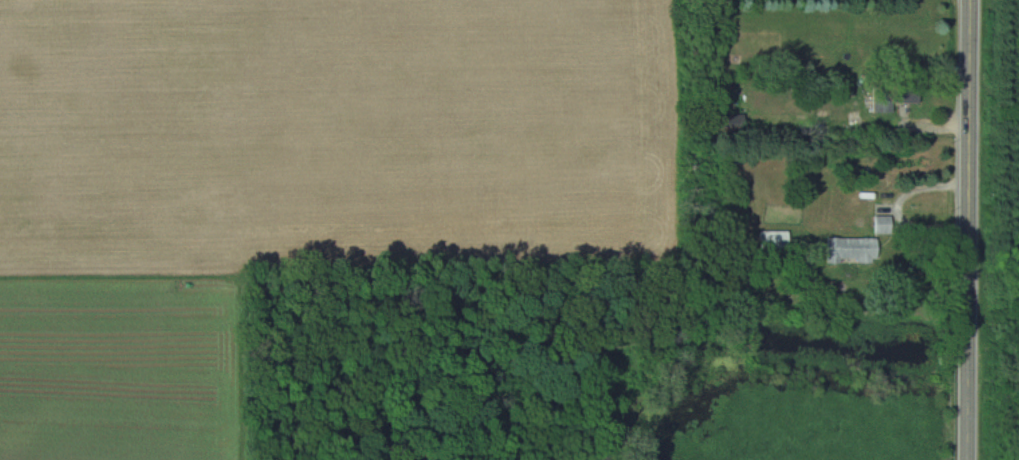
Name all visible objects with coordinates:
building: (894, 96)
building: (731, 123)
building: (883, 225)
road: (968, 230)
building: (774, 240)
building: (852, 250)

